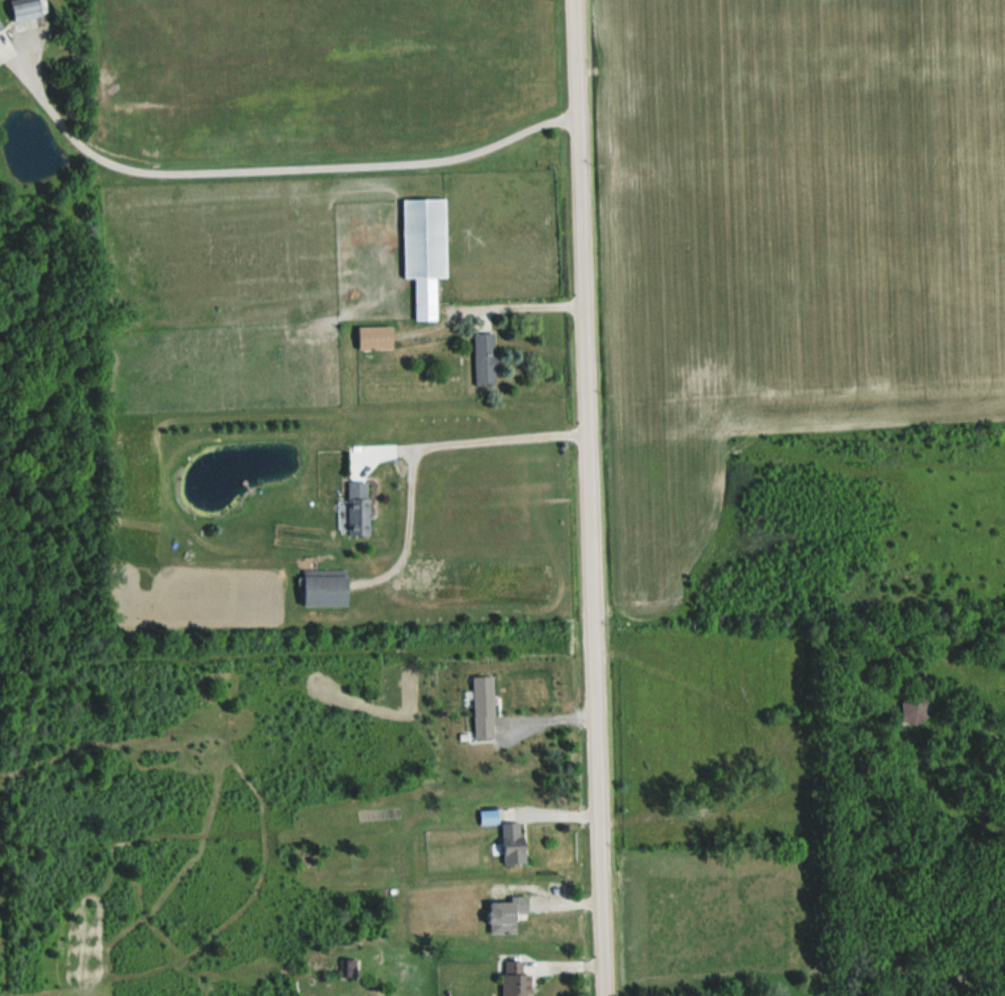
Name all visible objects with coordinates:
building: (25, 9)
building: (4, 54)
road: (281, 168)
building: (420, 251)
road: (523, 304)
building: (370, 338)
building: (480, 360)
road: (468, 441)
road: (587, 498)
building: (350, 510)
building: (320, 587)
building: (911, 708)
building: (508, 844)
building: (501, 915)
building: (346, 968)
building: (510, 980)

